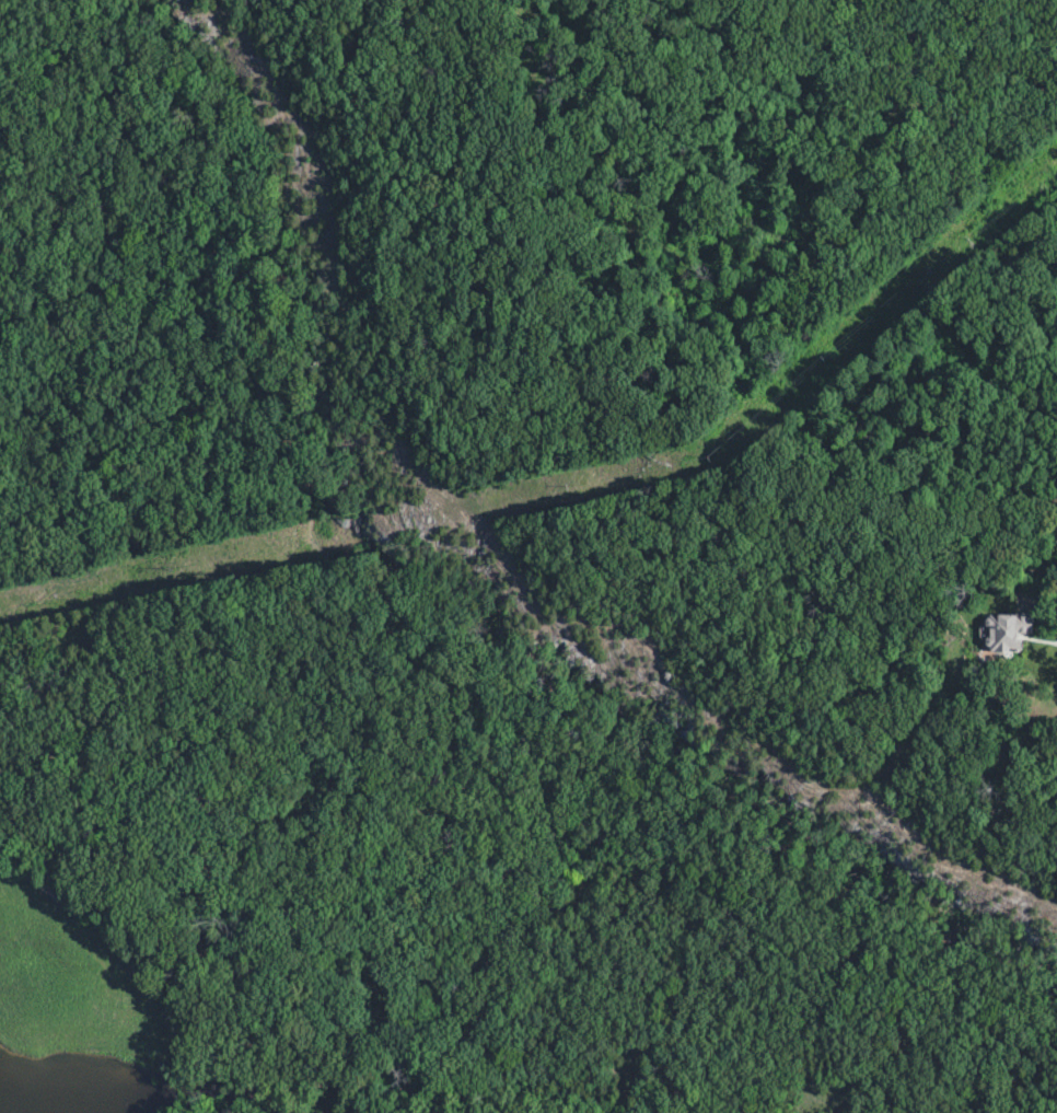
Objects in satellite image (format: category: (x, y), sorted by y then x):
building: (1003, 633)
road: (1038, 639)
road: (1055, 640)

